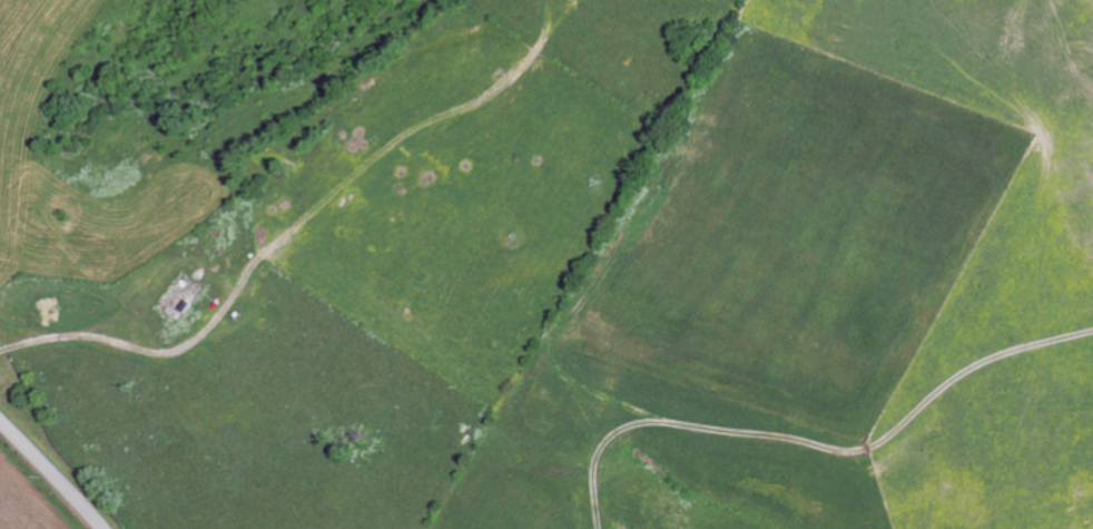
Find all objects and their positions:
road: (138, 349)
road: (51, 472)

